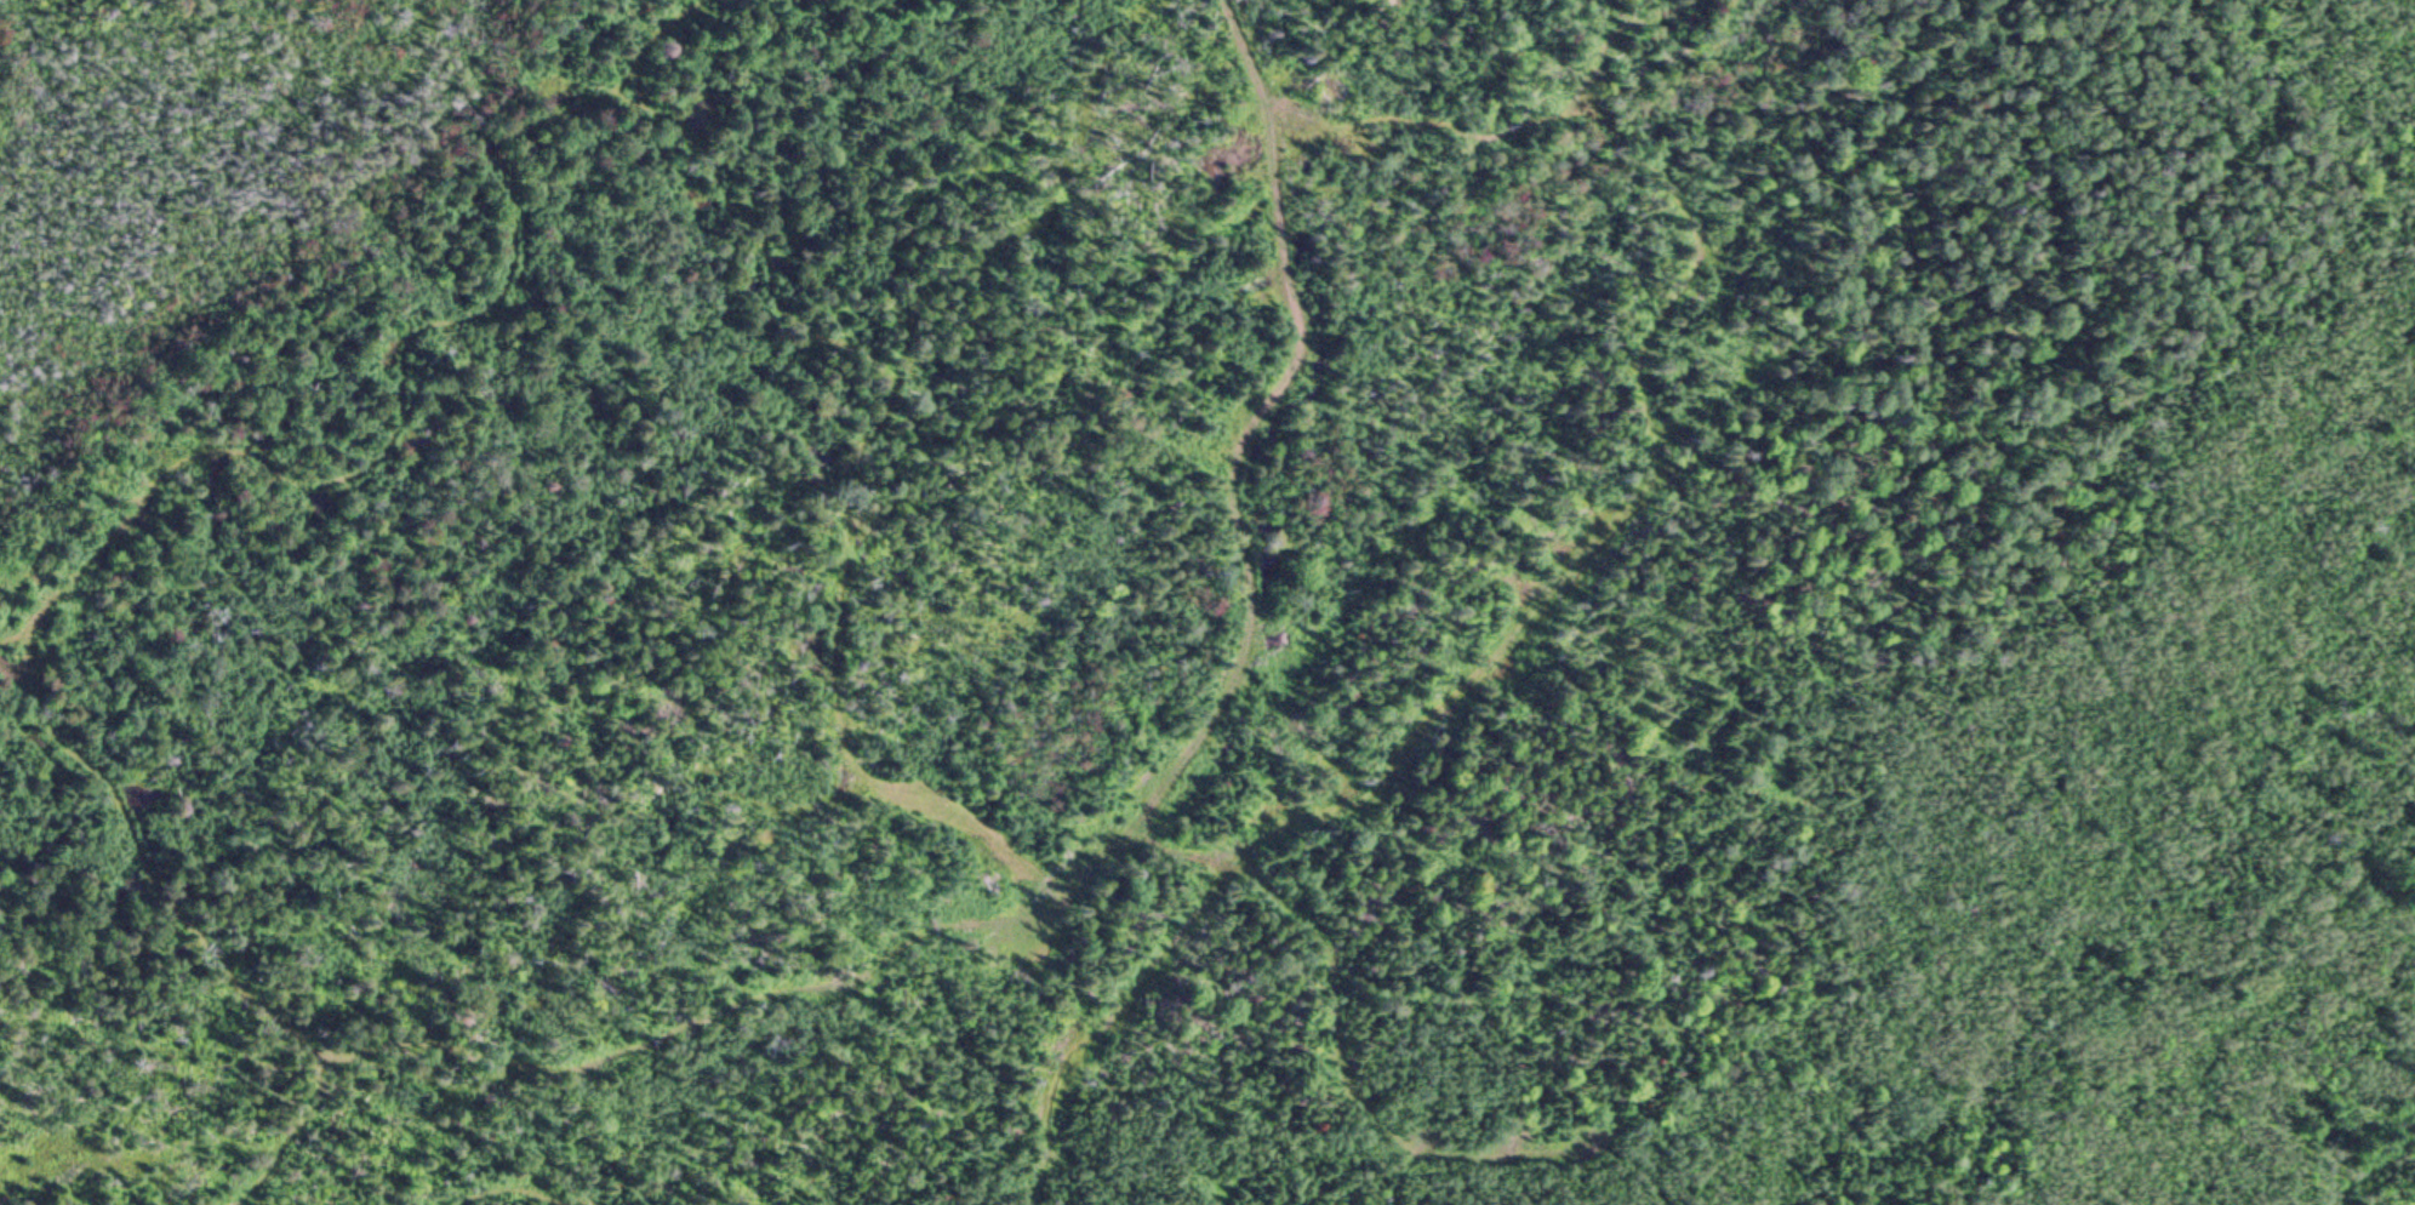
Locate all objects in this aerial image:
park: (1115, 1143)

